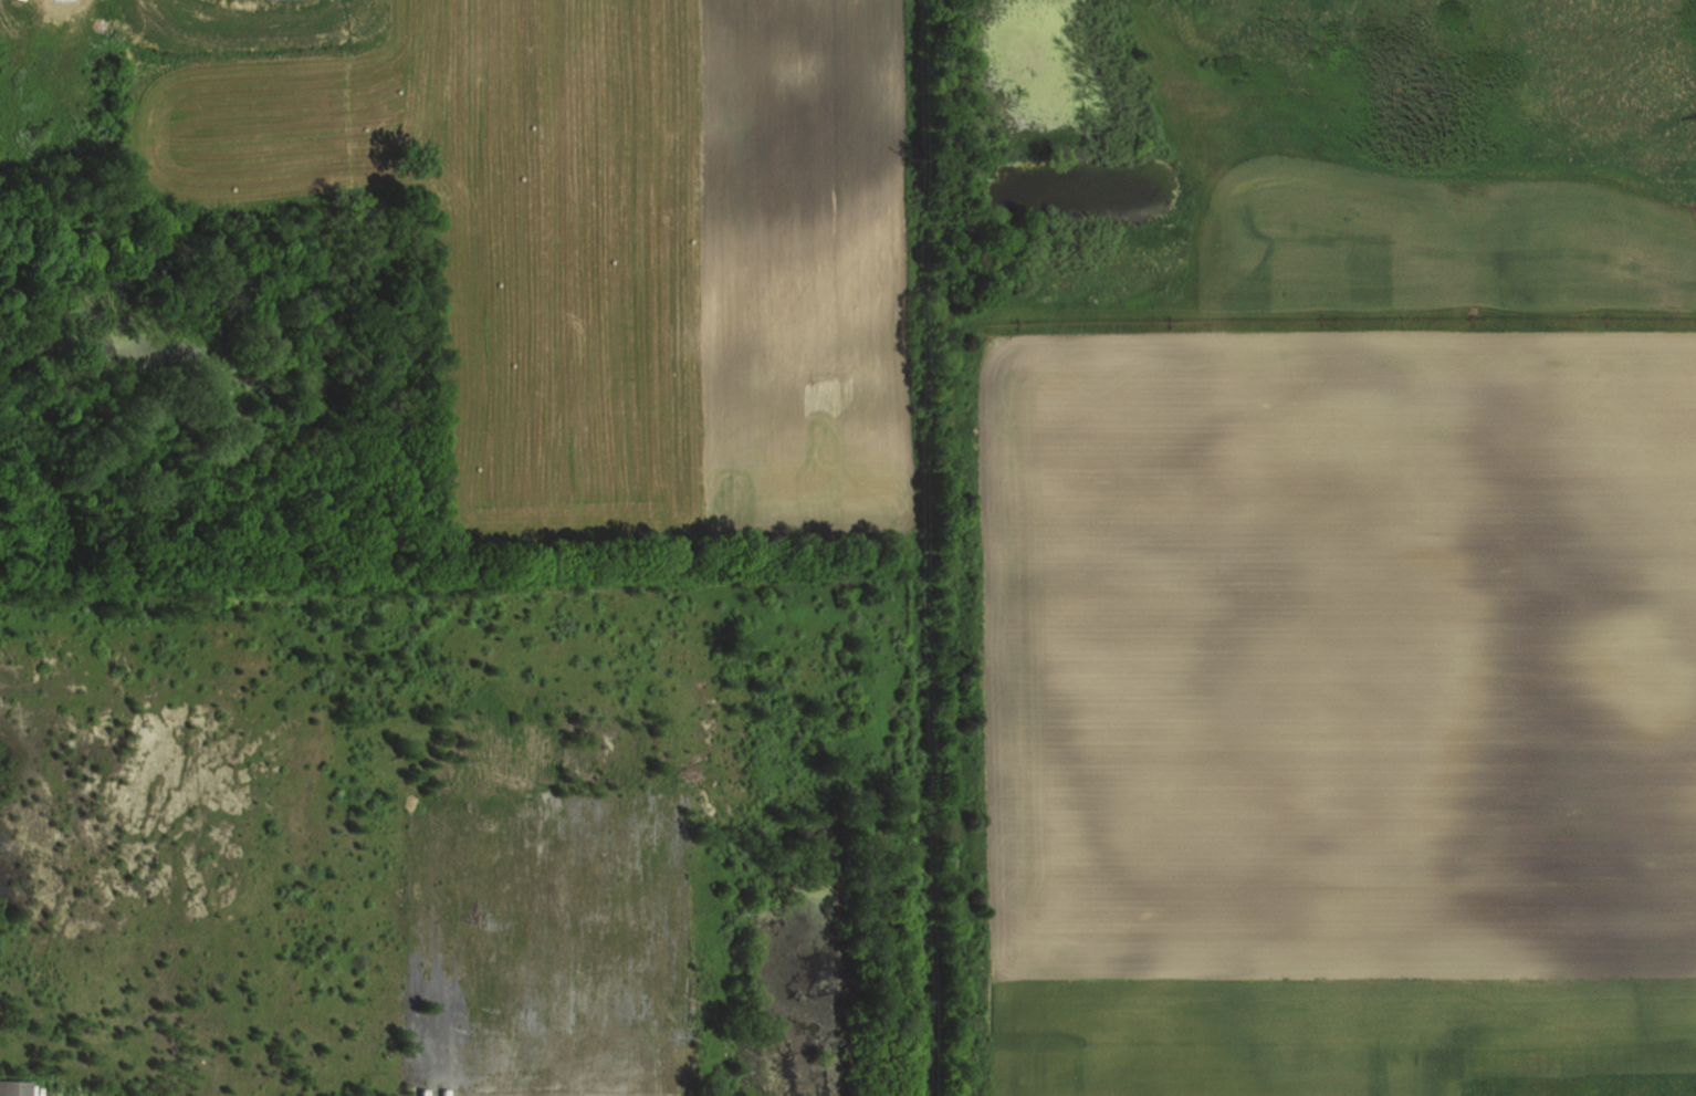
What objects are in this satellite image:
building: (10, 1087)

